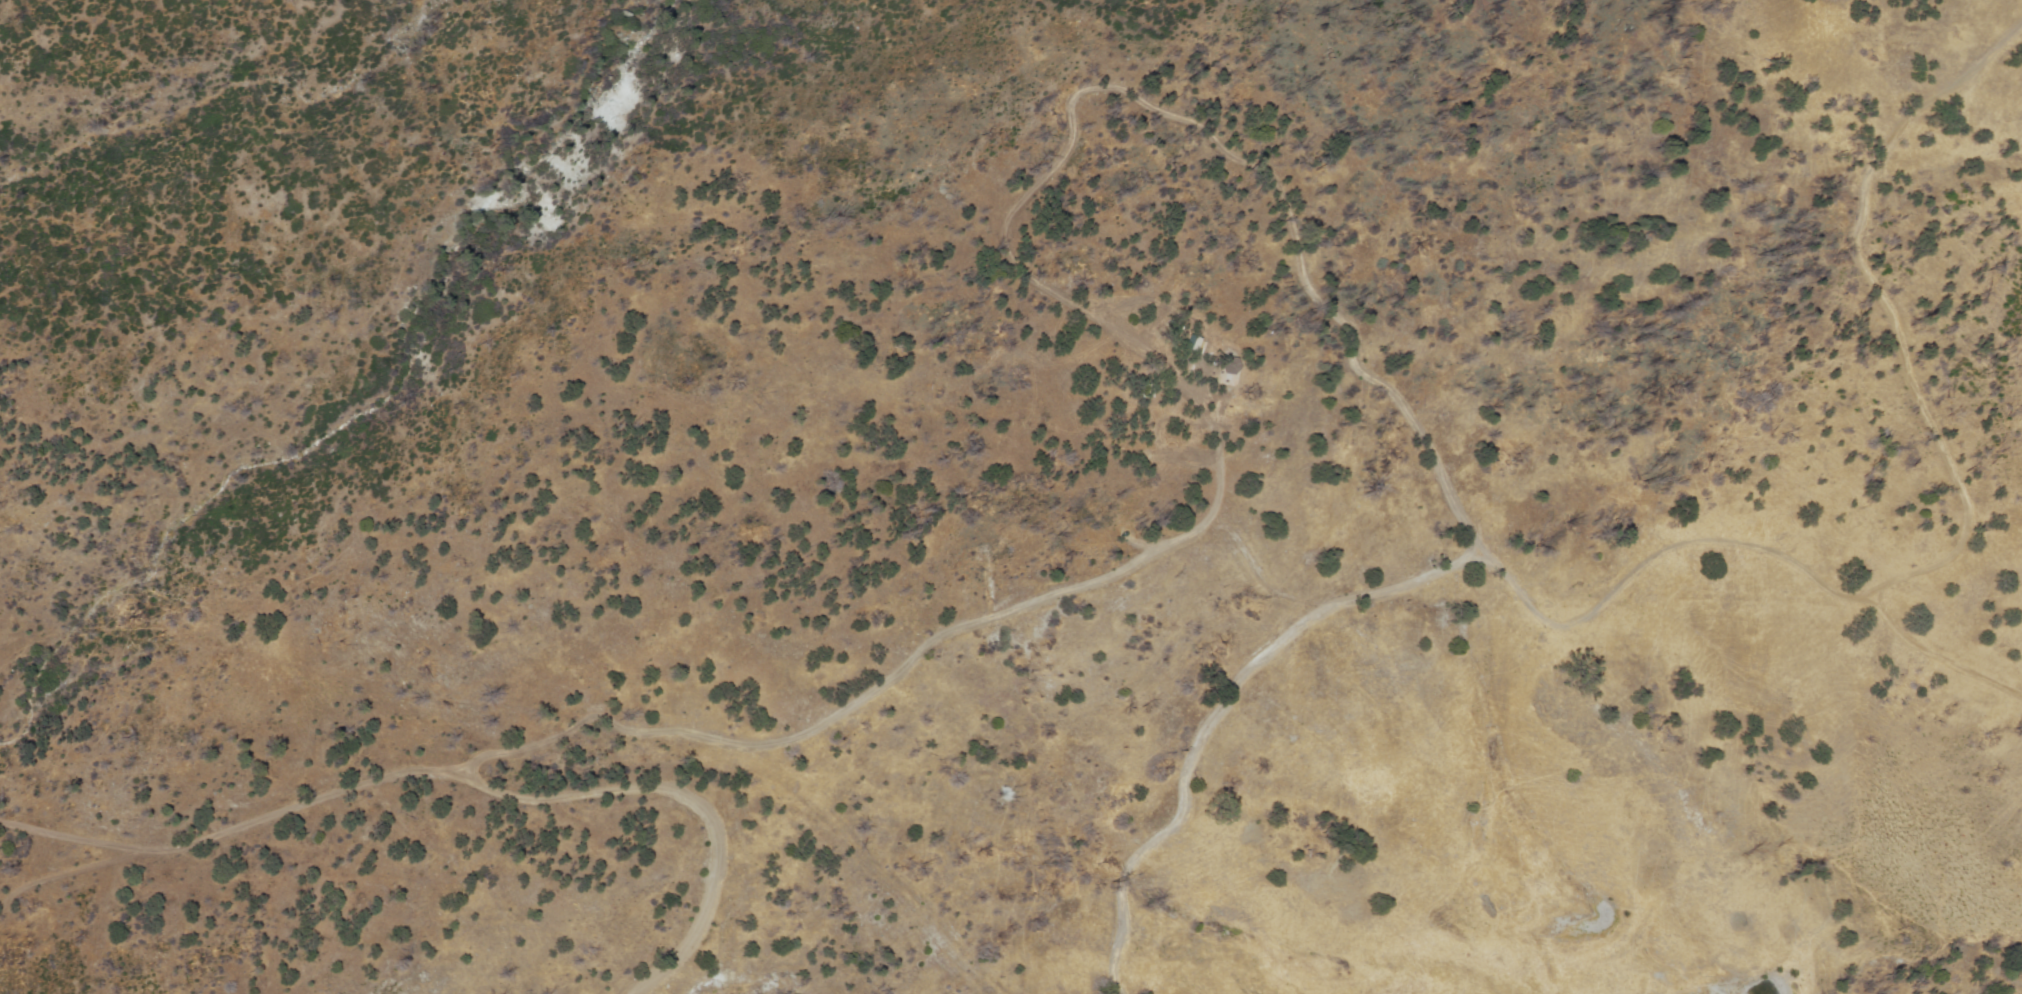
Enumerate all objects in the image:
road: (895, 667)
road: (452, 782)
quarry: (828, 874)
road: (67, 880)

